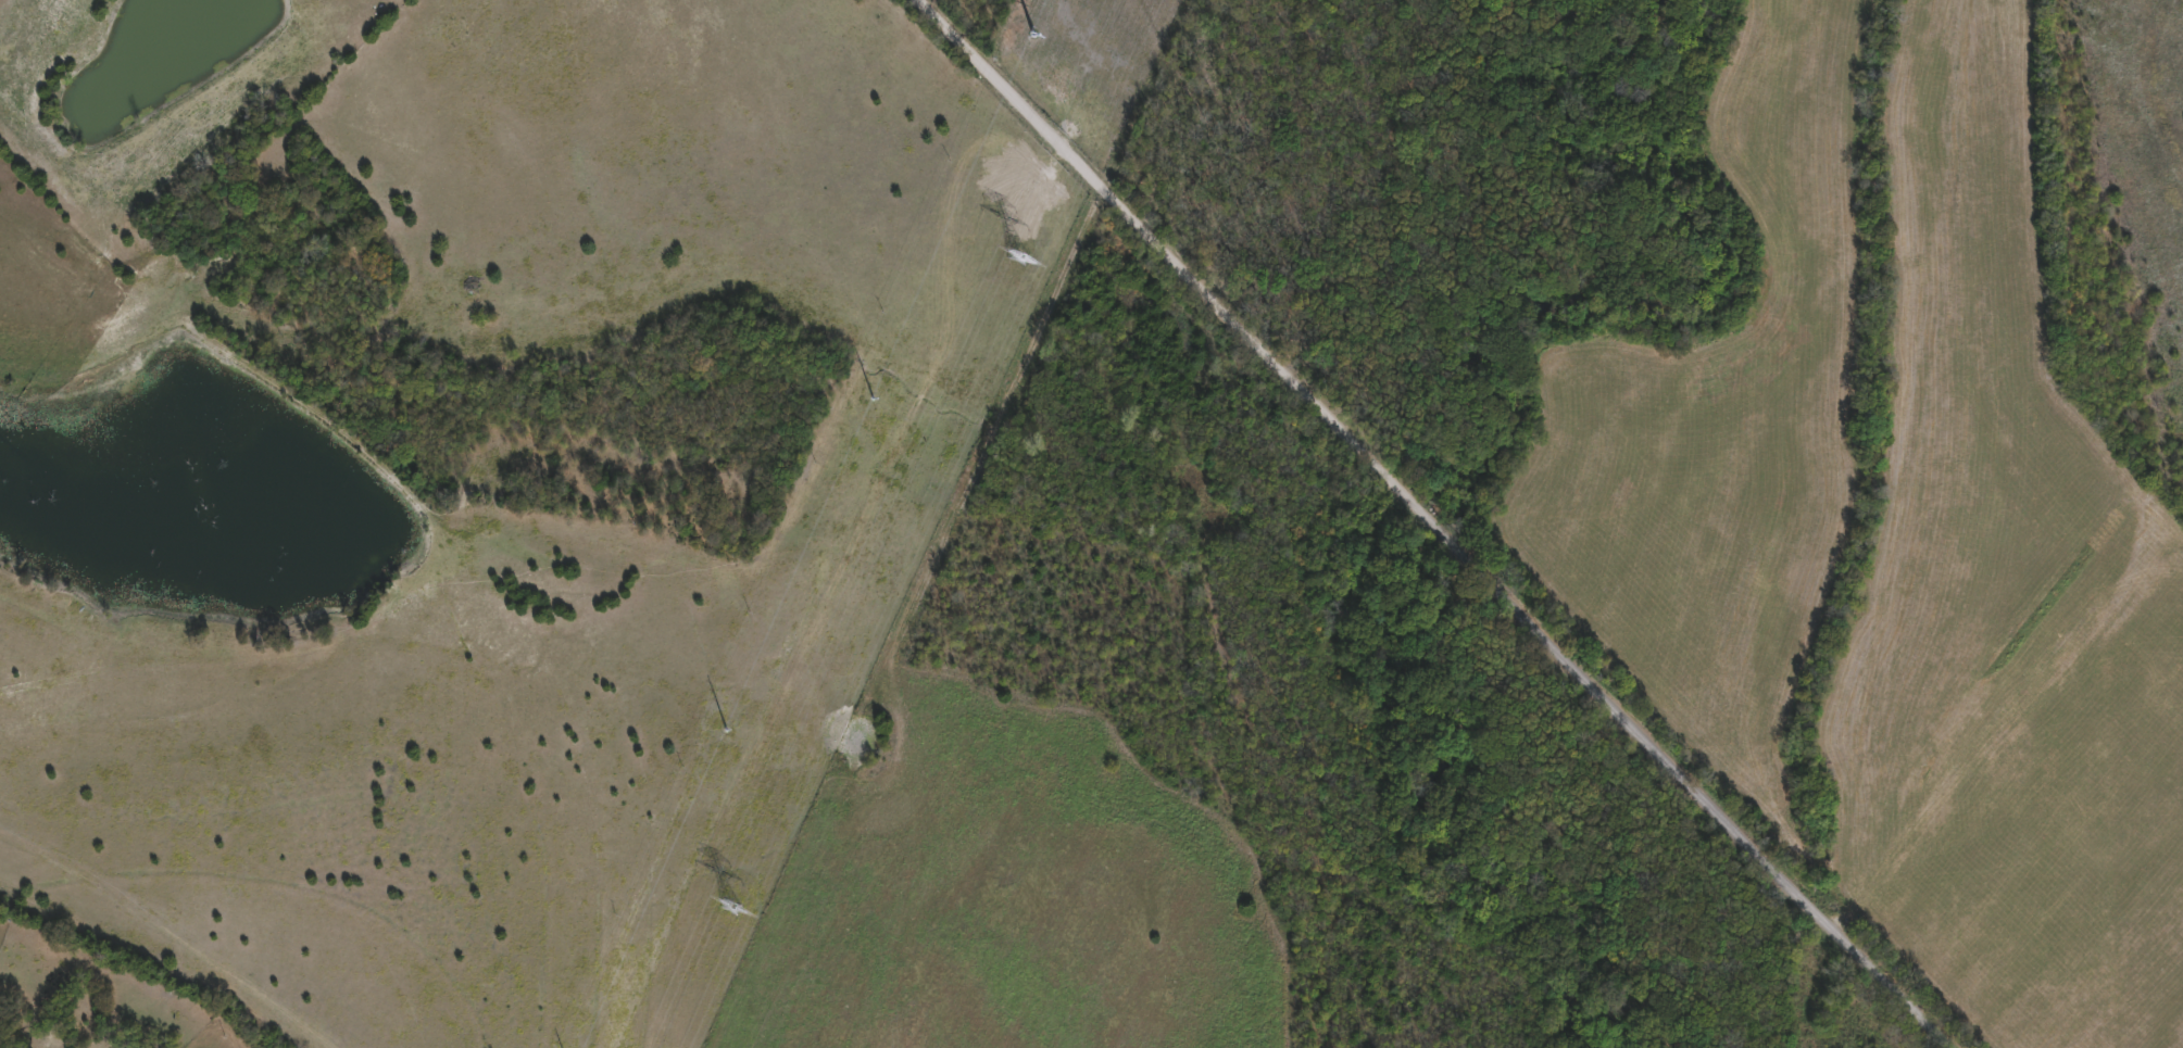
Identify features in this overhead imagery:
power tower: (1032, 41)
power tower: (1020, 257)
power tower: (879, 388)
road: (1423, 525)
power tower: (725, 735)
power tower: (731, 907)

